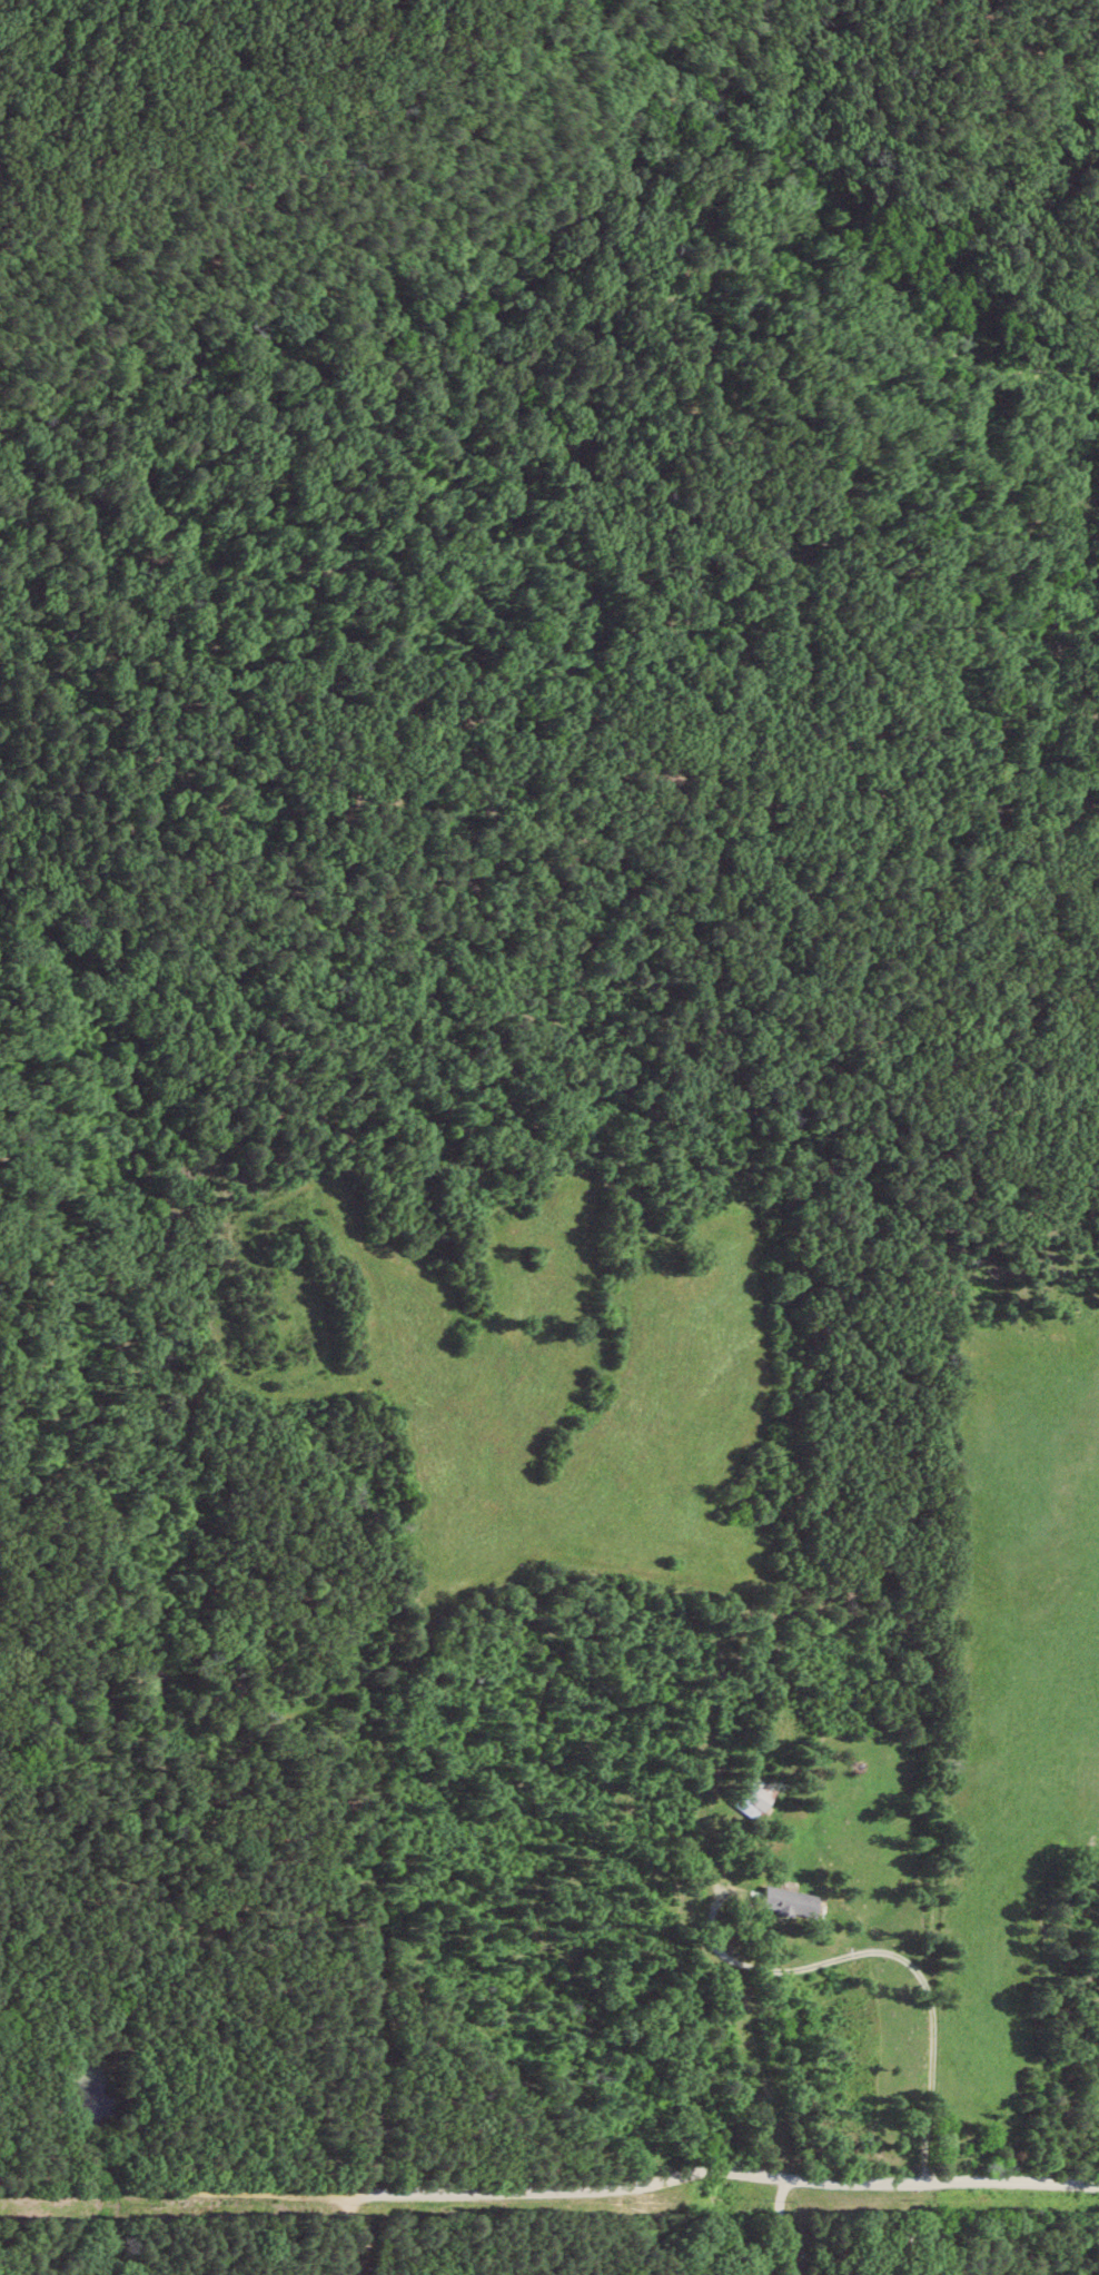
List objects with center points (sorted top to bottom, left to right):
building: (760, 1797)
building: (793, 1900)
road: (551, 2184)

